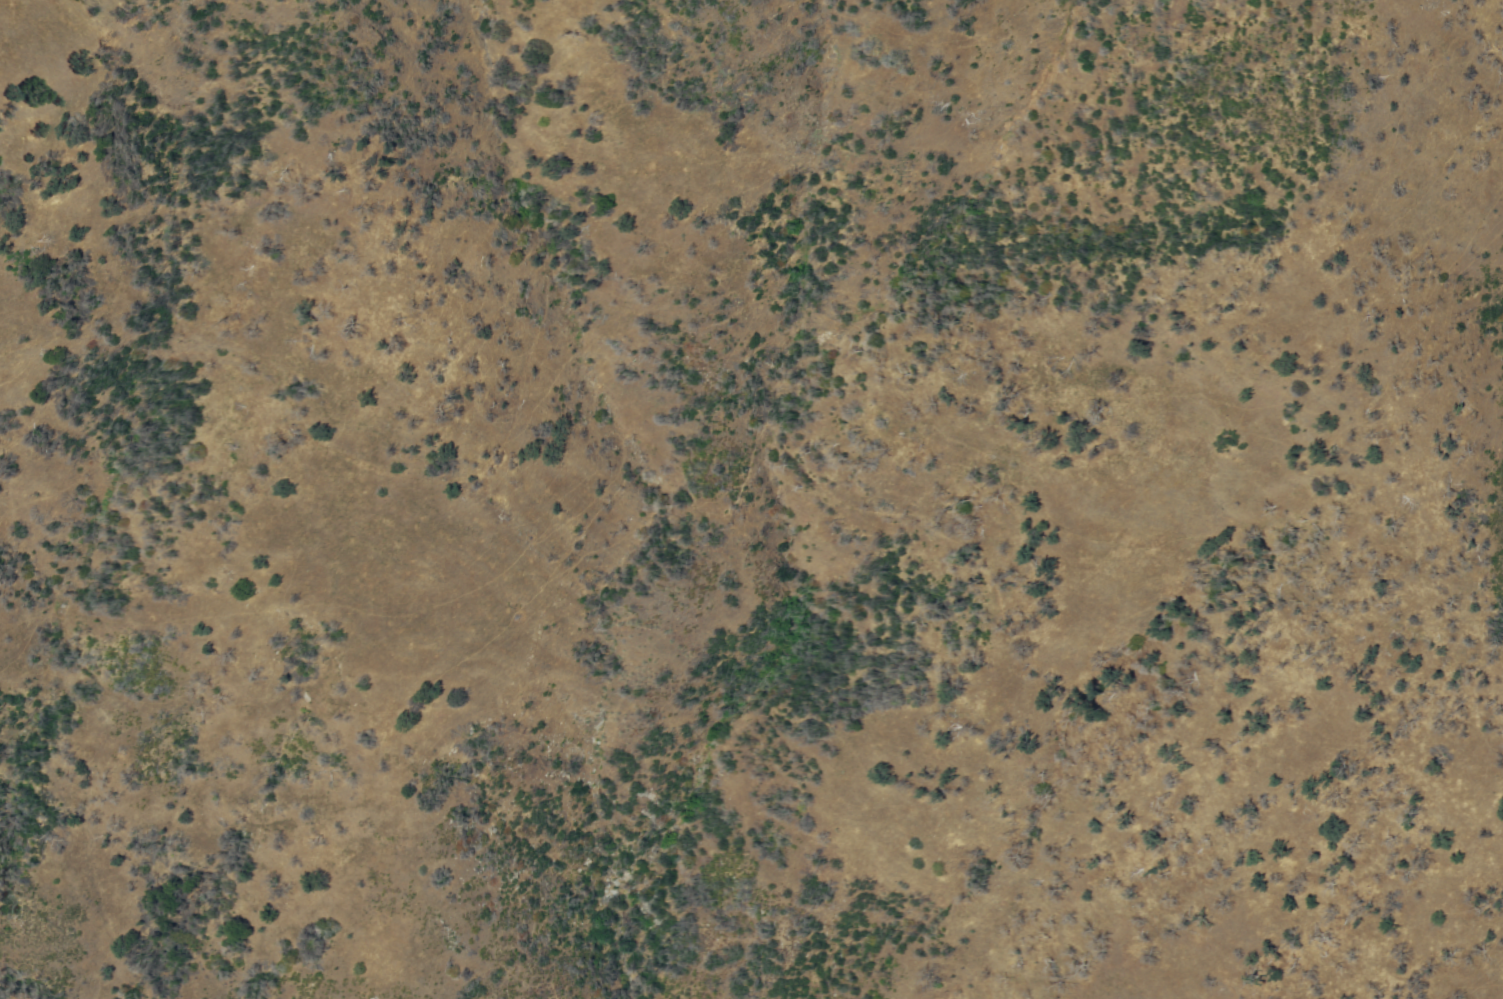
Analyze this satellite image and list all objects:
road: (535, 306)
road: (1362, 365)
road: (592, 535)
road: (1216, 795)

